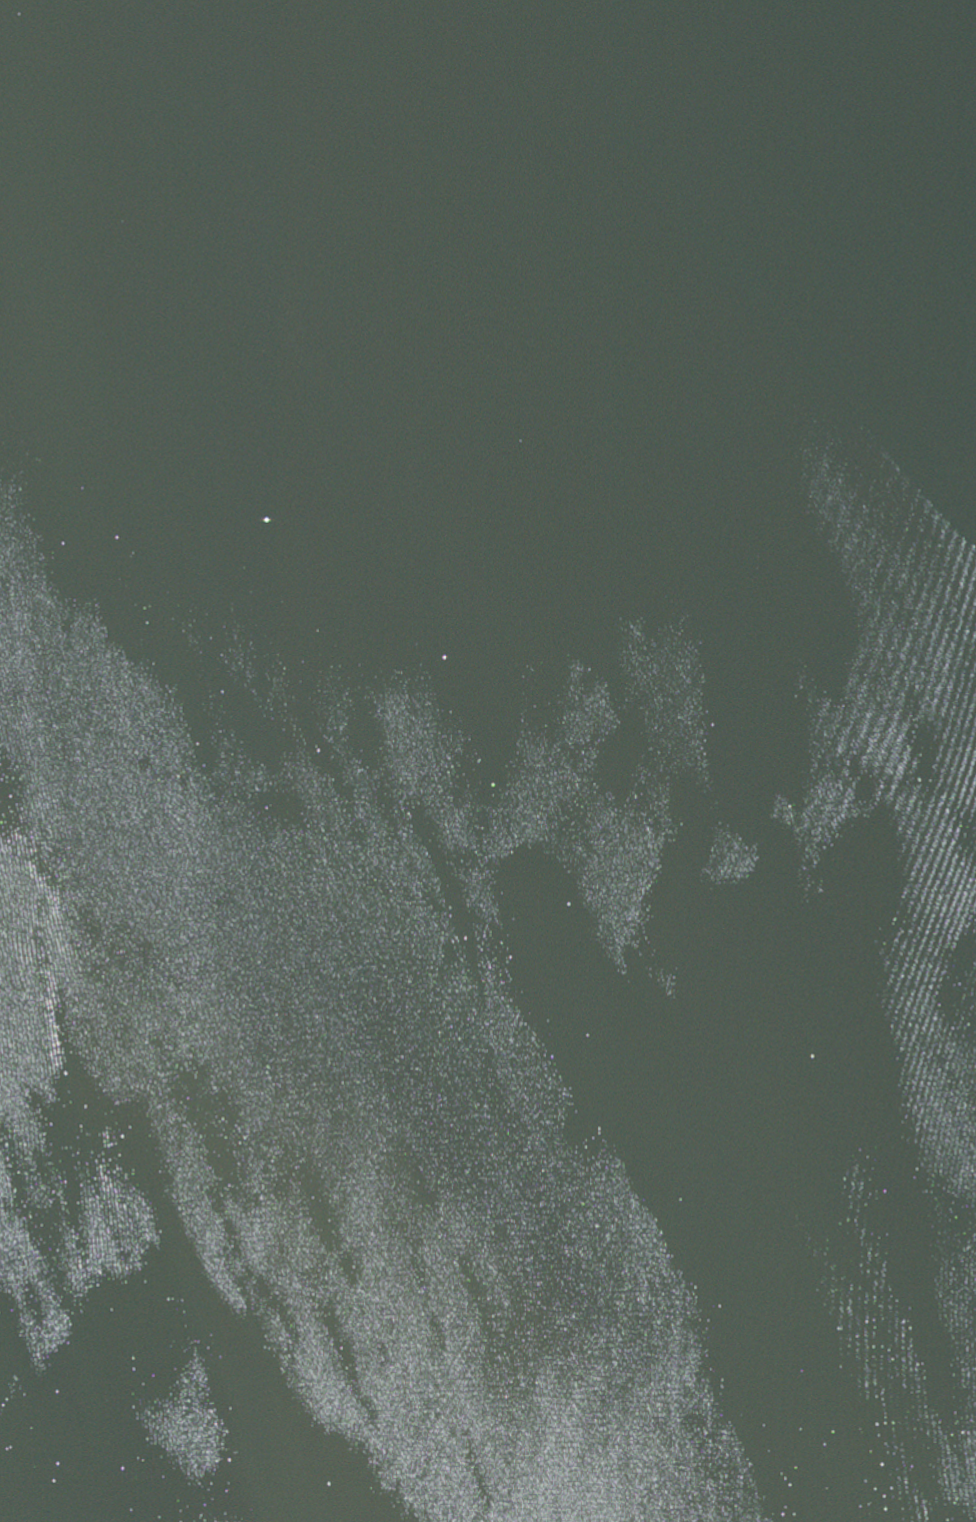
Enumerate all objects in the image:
river: (228, 820)

